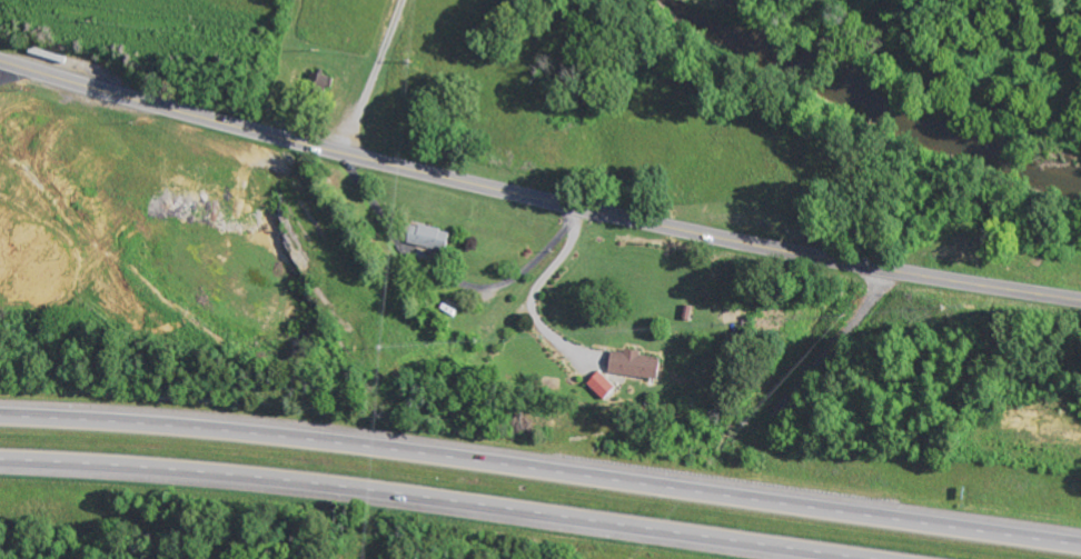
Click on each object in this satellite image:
road: (534, 199)
building: (423, 237)
road: (1079, 300)
building: (631, 365)
building: (598, 385)
road: (542, 468)
road: (424, 500)

